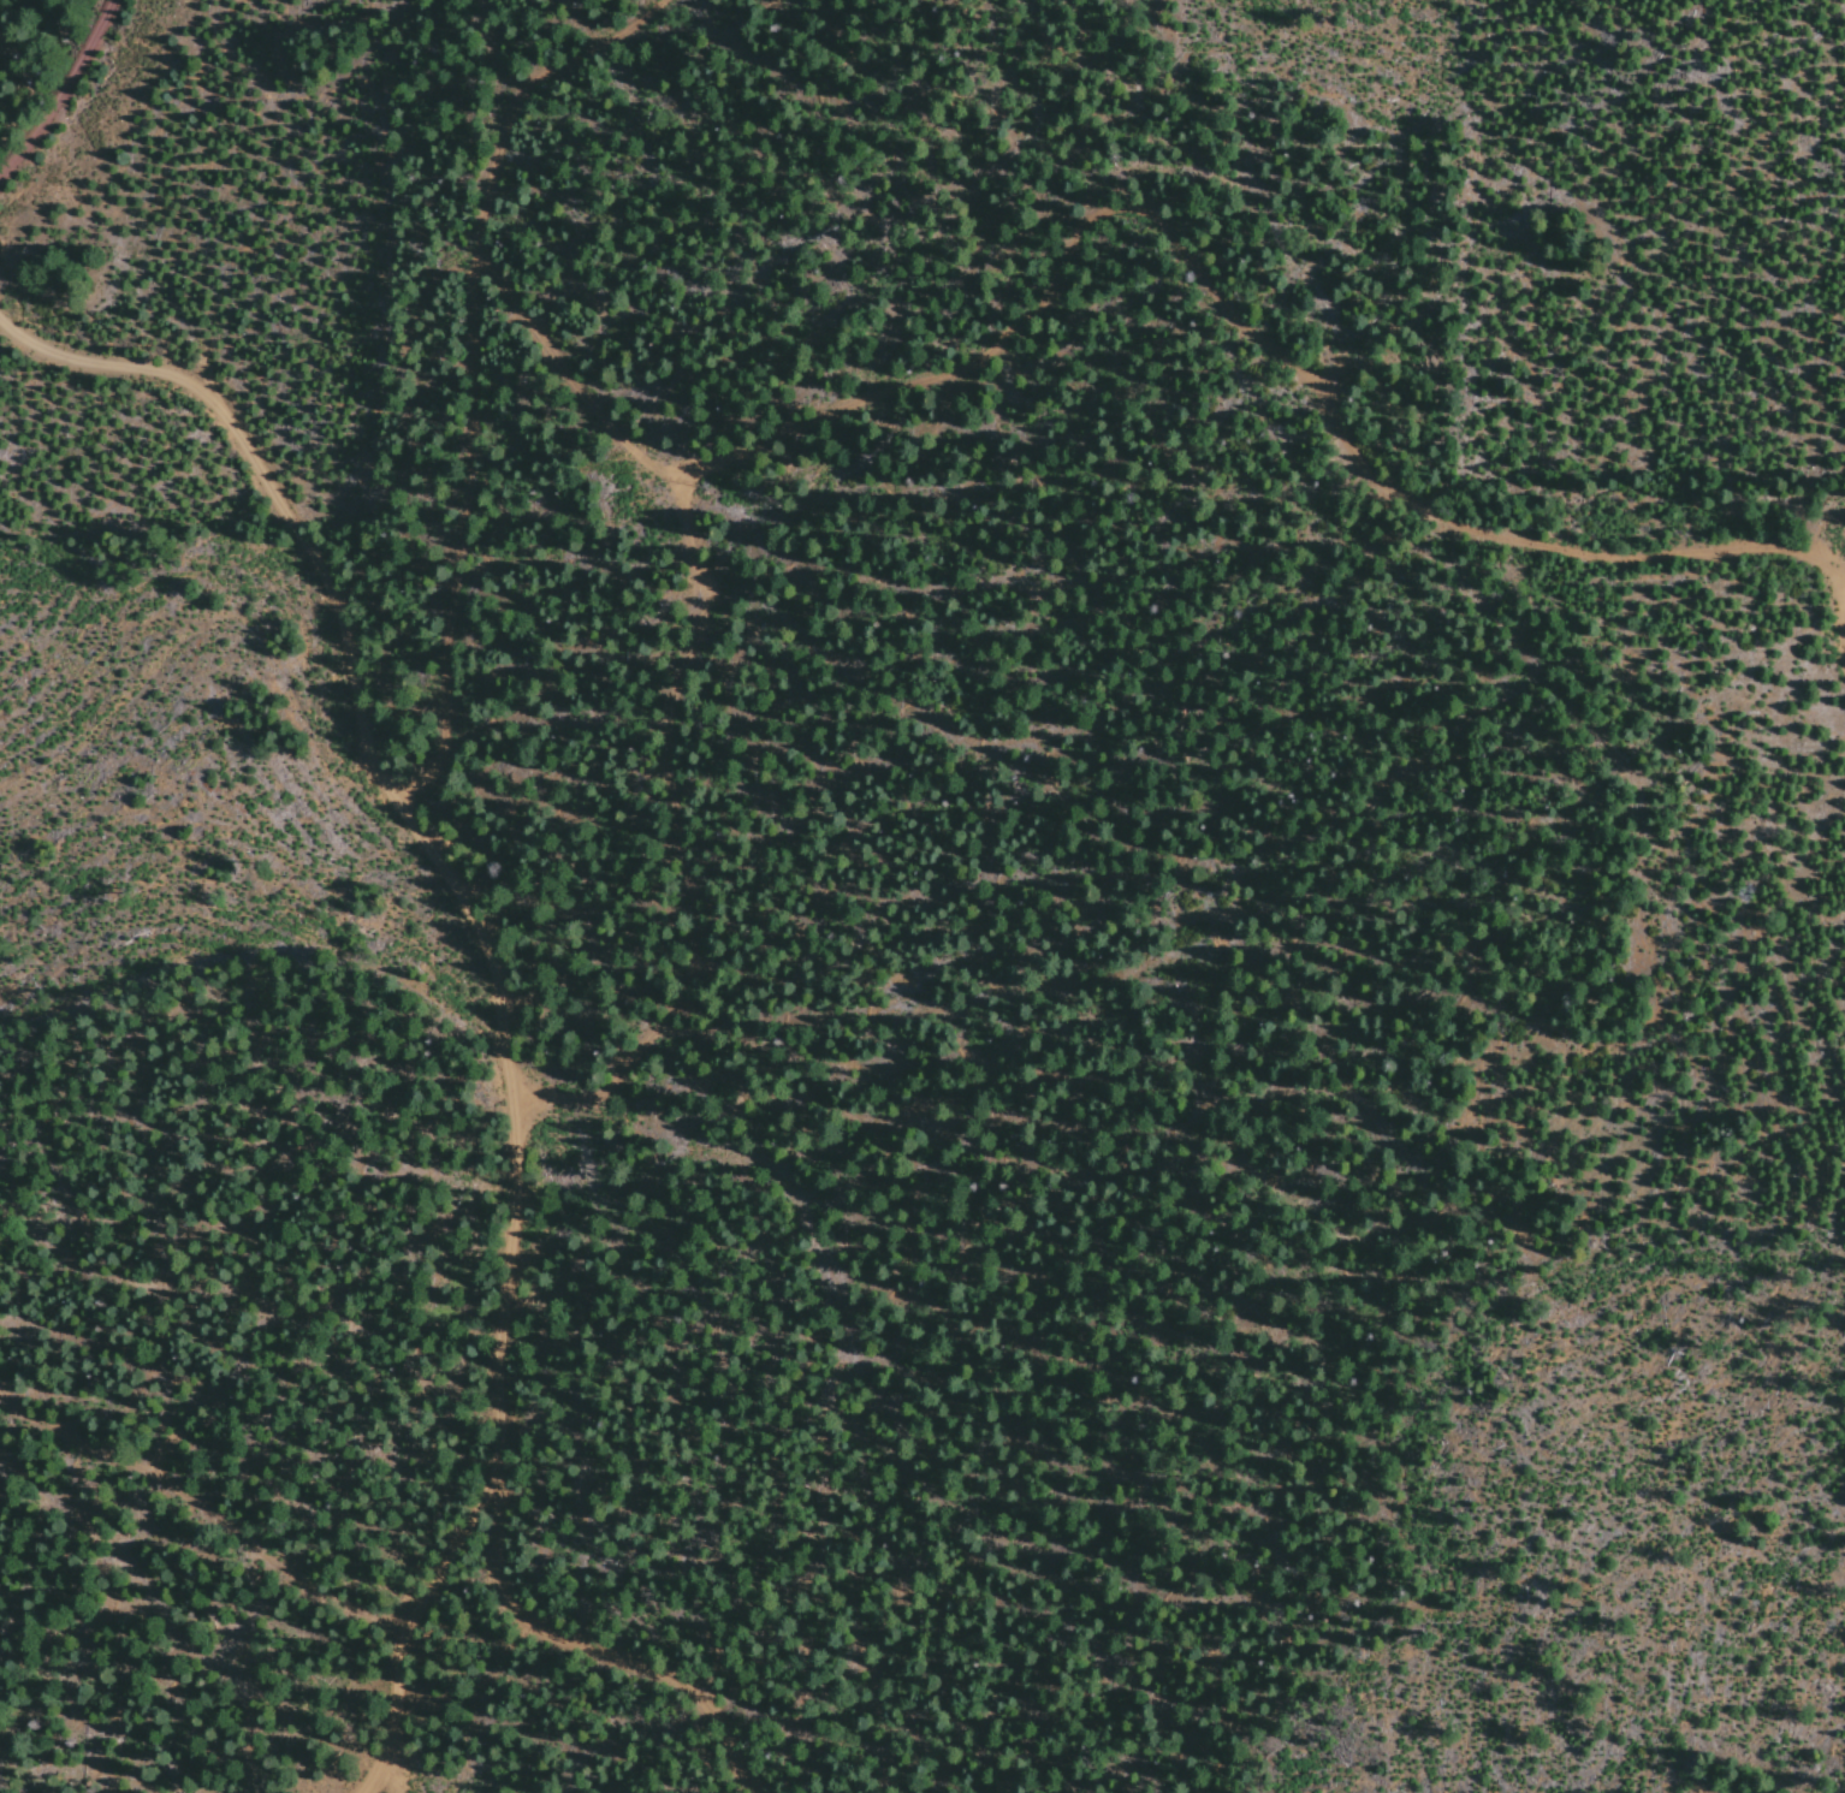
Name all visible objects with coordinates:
road: (484, 966)
road: (617, 1660)

